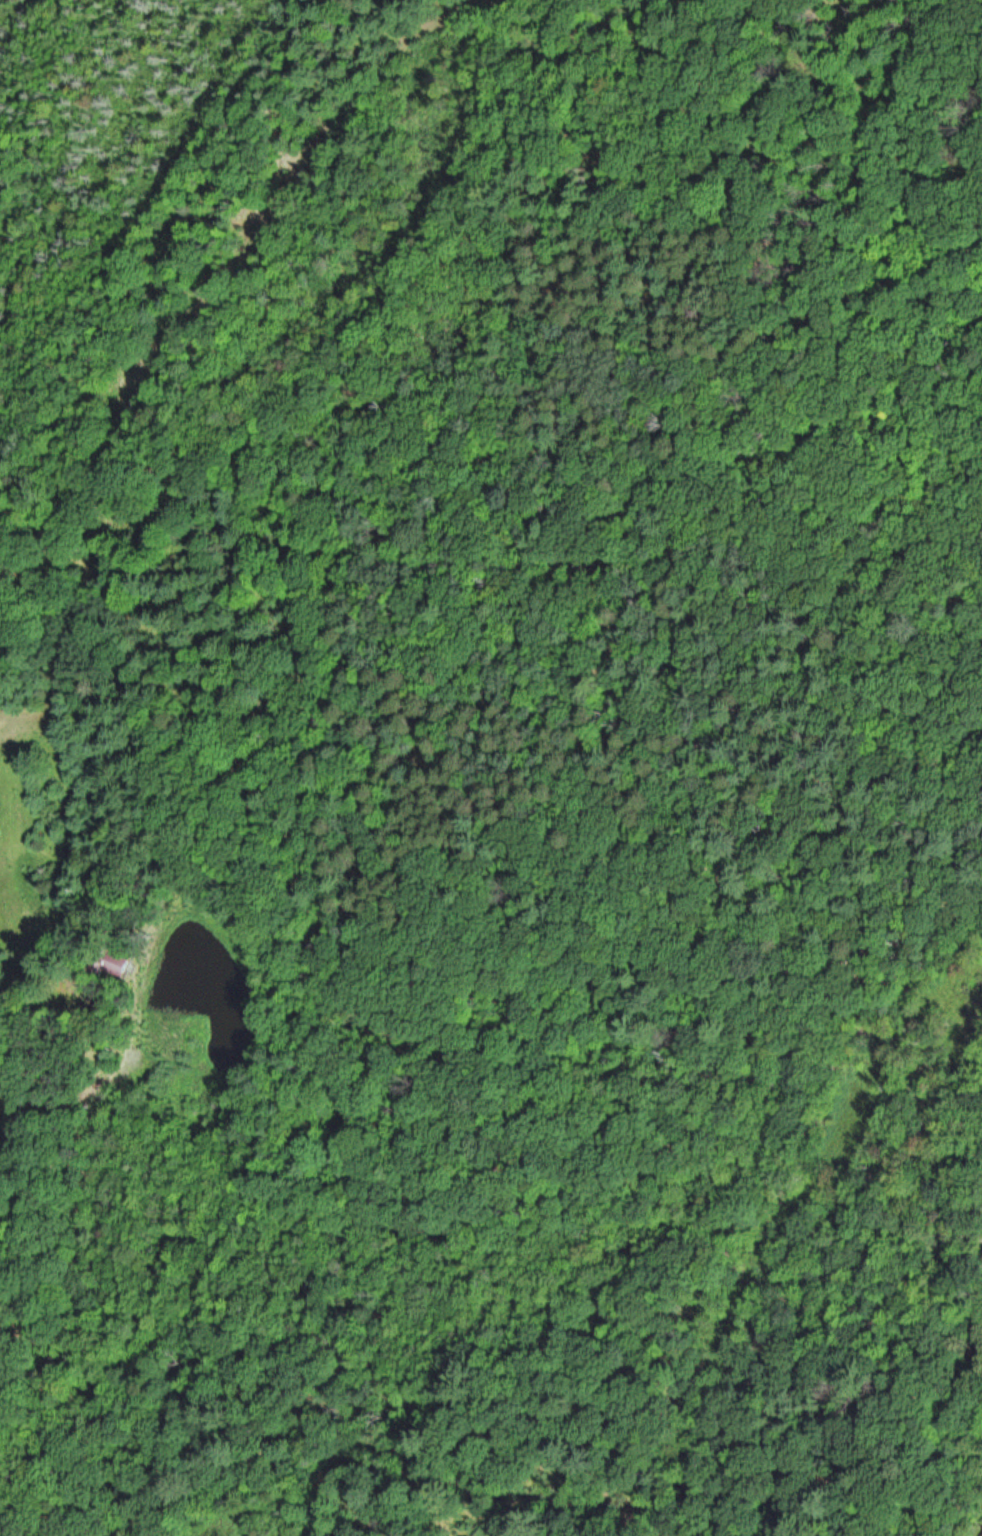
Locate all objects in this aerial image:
road: (401, 762)
building: (117, 966)
road: (940, 1461)

